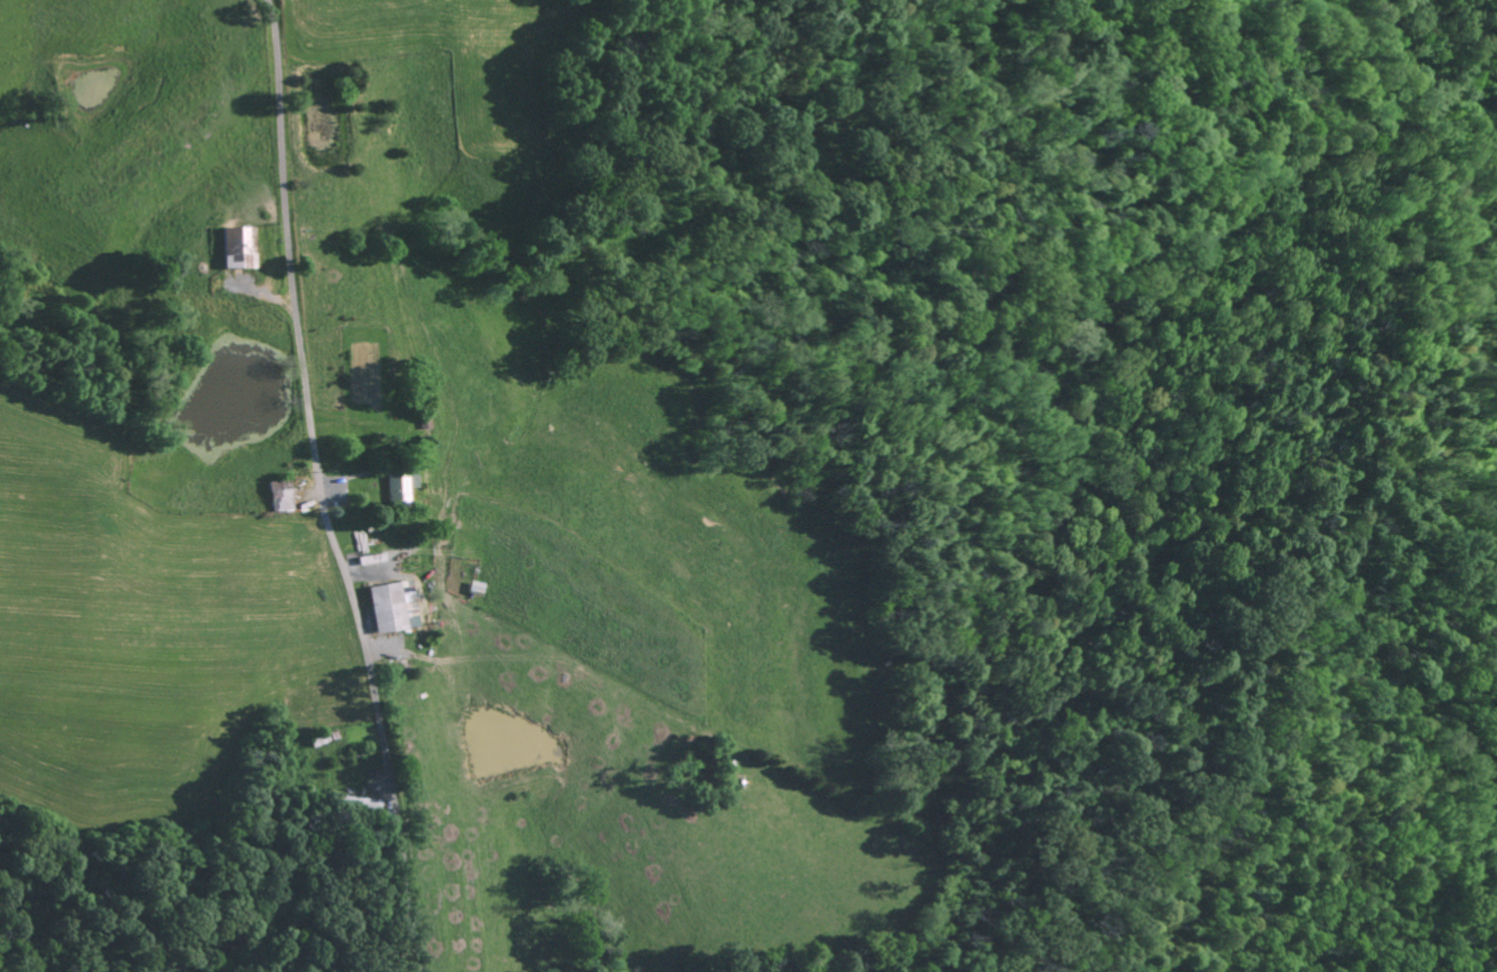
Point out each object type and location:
building: (237, 247)
building: (396, 487)
road: (317, 489)
building: (276, 490)

